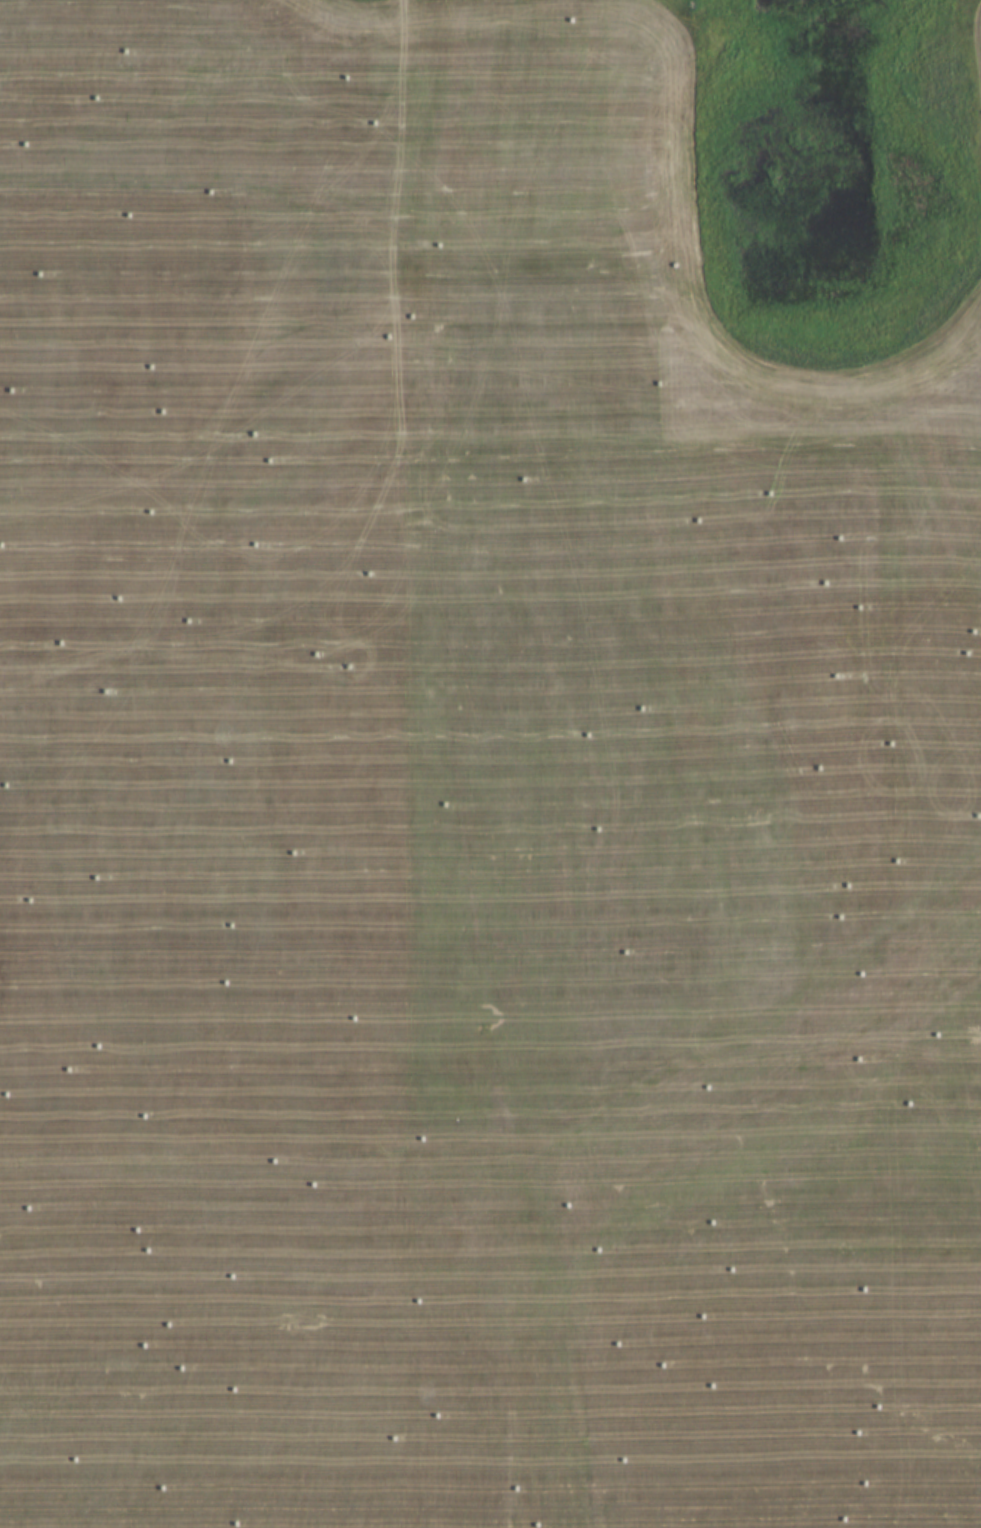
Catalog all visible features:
quarry: (490, 764)

